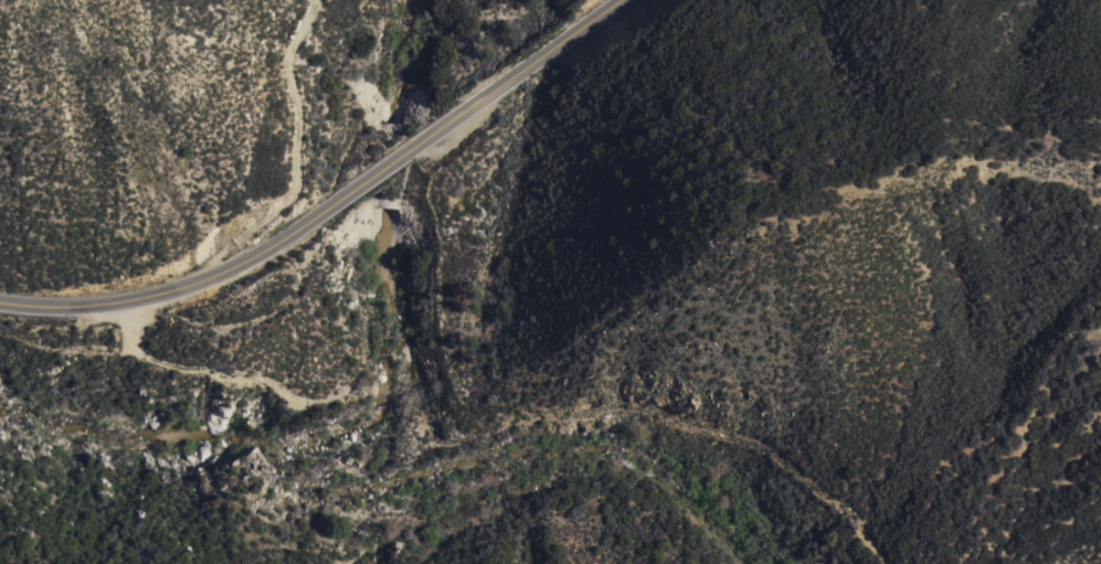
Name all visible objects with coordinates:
road: (518, 73)
road: (301, 150)
road: (381, 171)
river: (389, 182)
road: (184, 287)
river: (182, 416)

